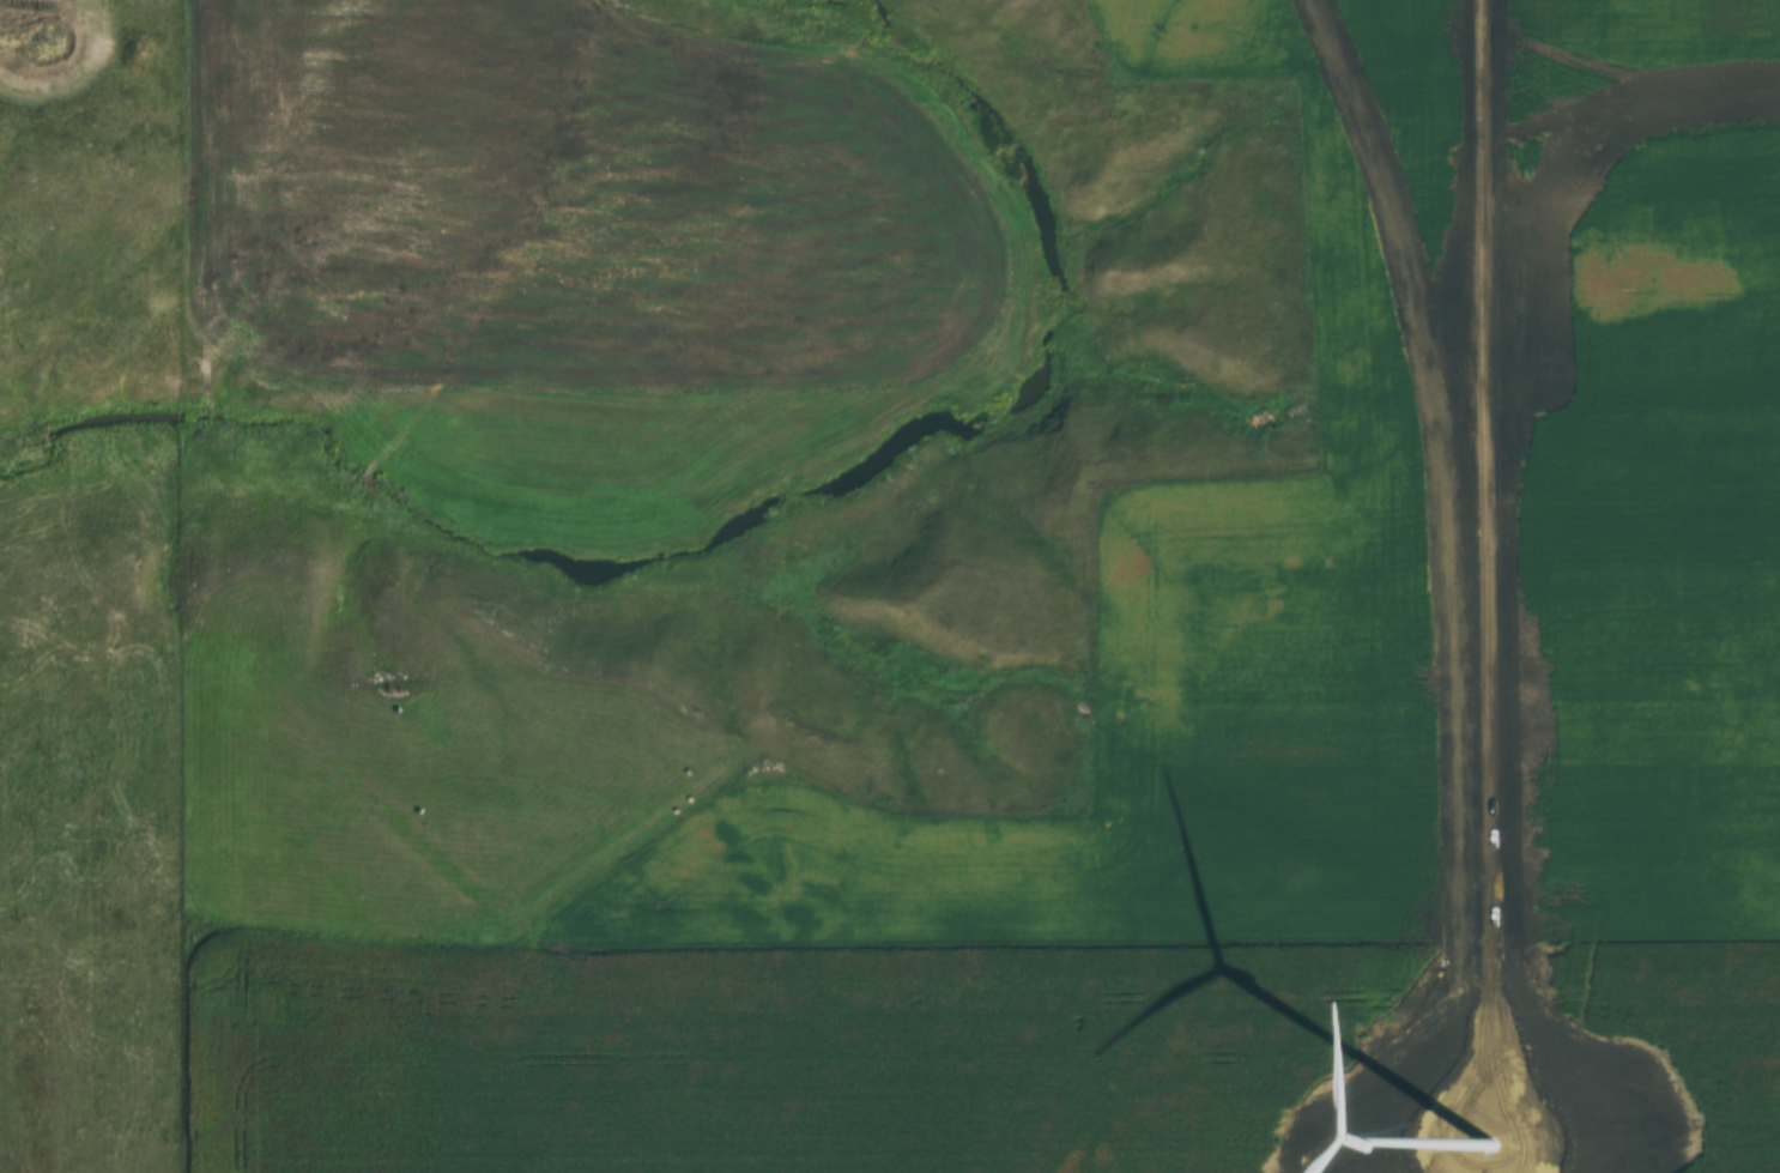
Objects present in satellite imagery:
wind turbine: (1489, 1144)

